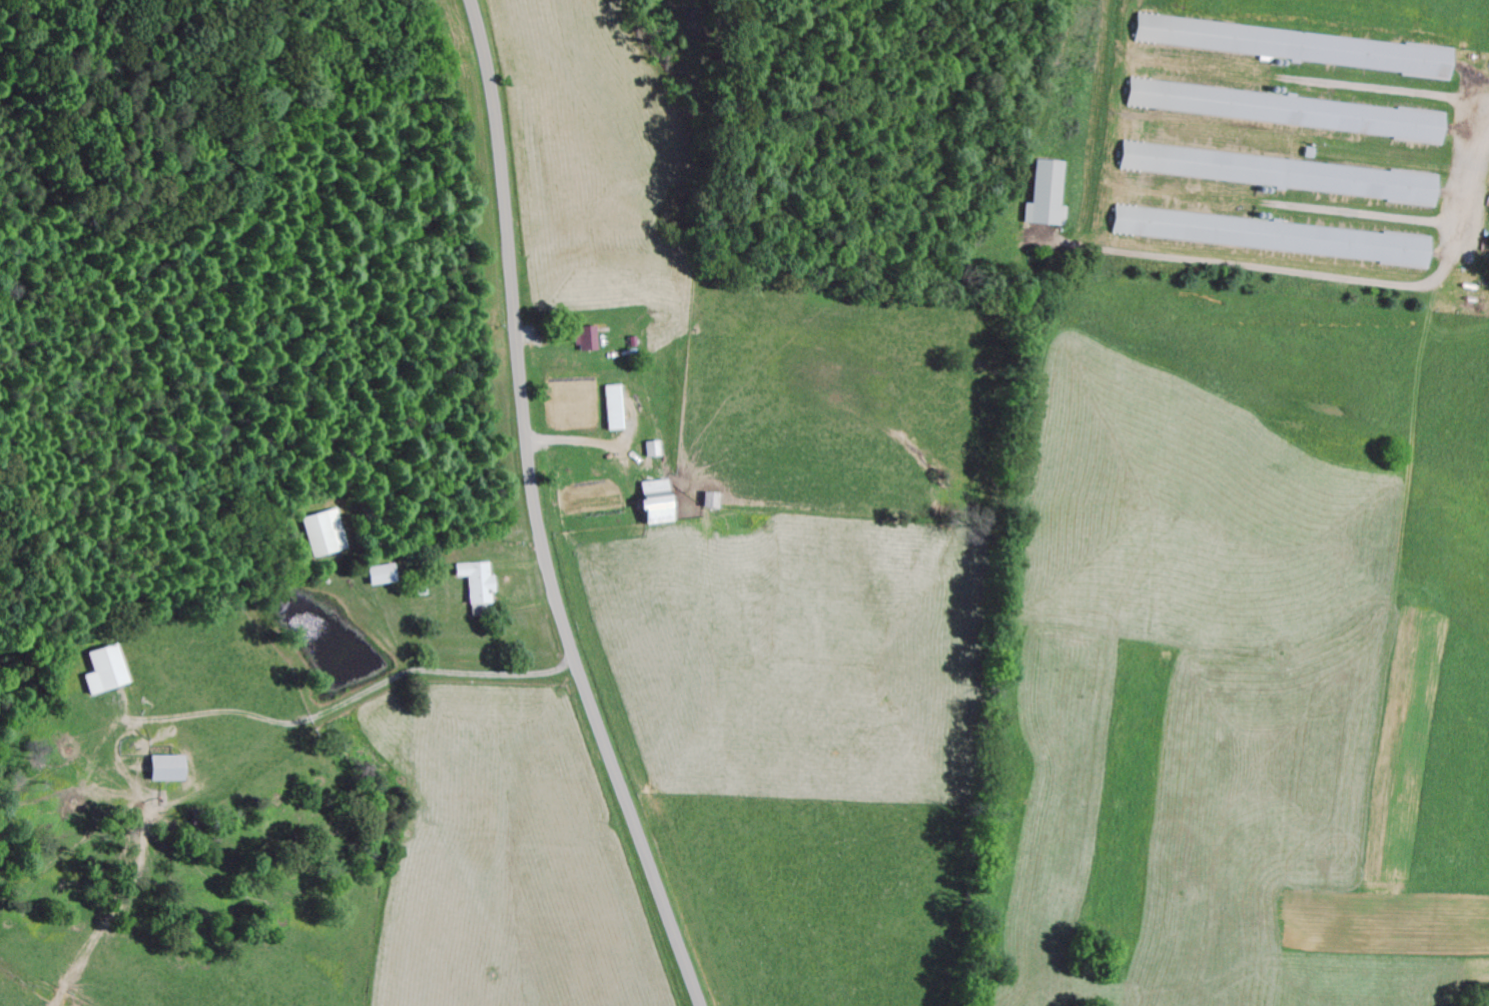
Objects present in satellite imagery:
building: (1289, 49)
building: (1282, 113)
building: (1274, 176)
building: (1042, 198)
building: (1267, 238)
building: (582, 341)
building: (610, 410)
building: (648, 451)
building: (705, 502)
building: (649, 505)
road: (536, 514)
building: (322, 536)
building: (380, 577)
building: (473, 584)
building: (103, 672)
building: (161, 771)

